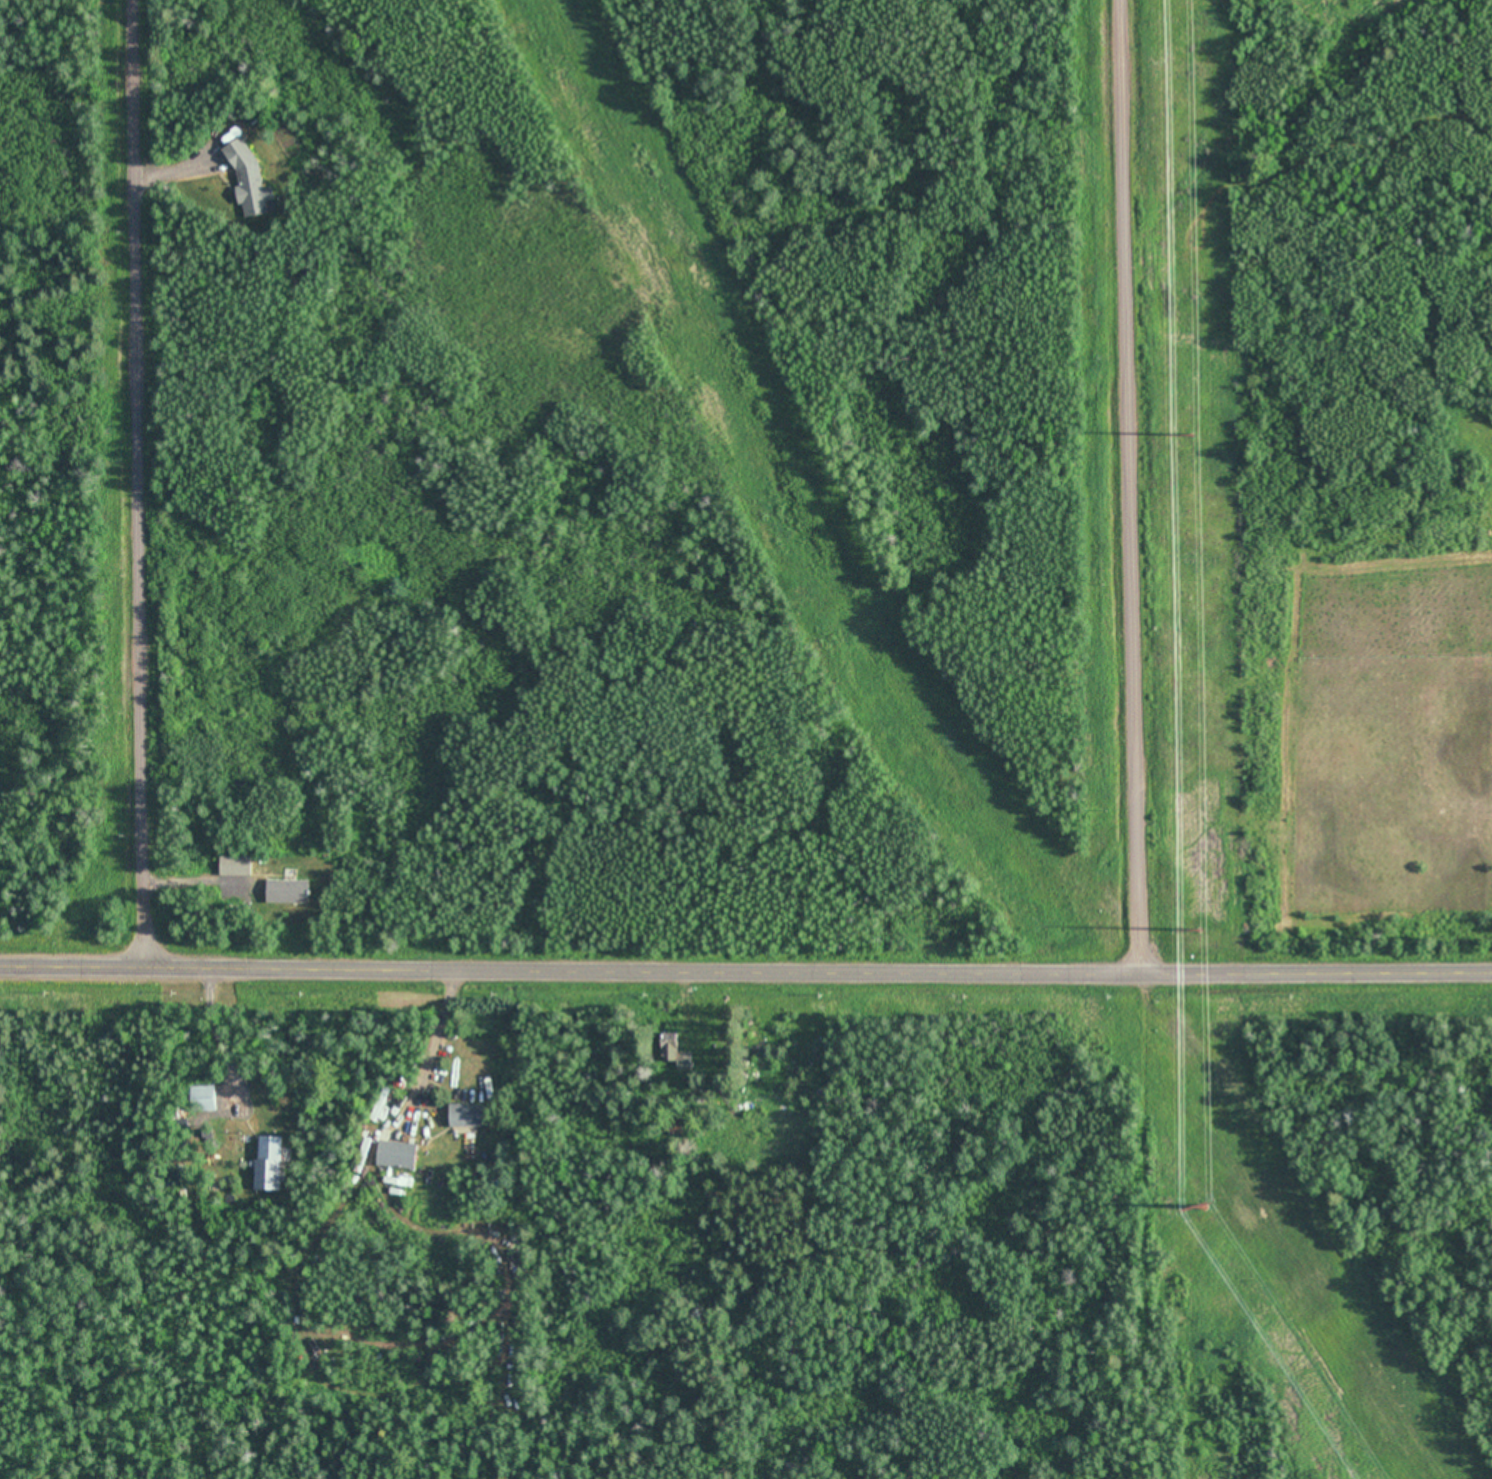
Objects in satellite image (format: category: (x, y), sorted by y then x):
building: (248, 180)
power tower: (1193, 432)
road: (148, 482)
road: (1132, 486)
building: (234, 864)
building: (287, 890)
power tower: (1200, 929)
road: (746, 968)
building: (673, 1054)
building: (203, 1098)
building: (470, 1115)
building: (674, 1128)
building: (396, 1155)
building: (268, 1163)
power tower: (1205, 1205)

